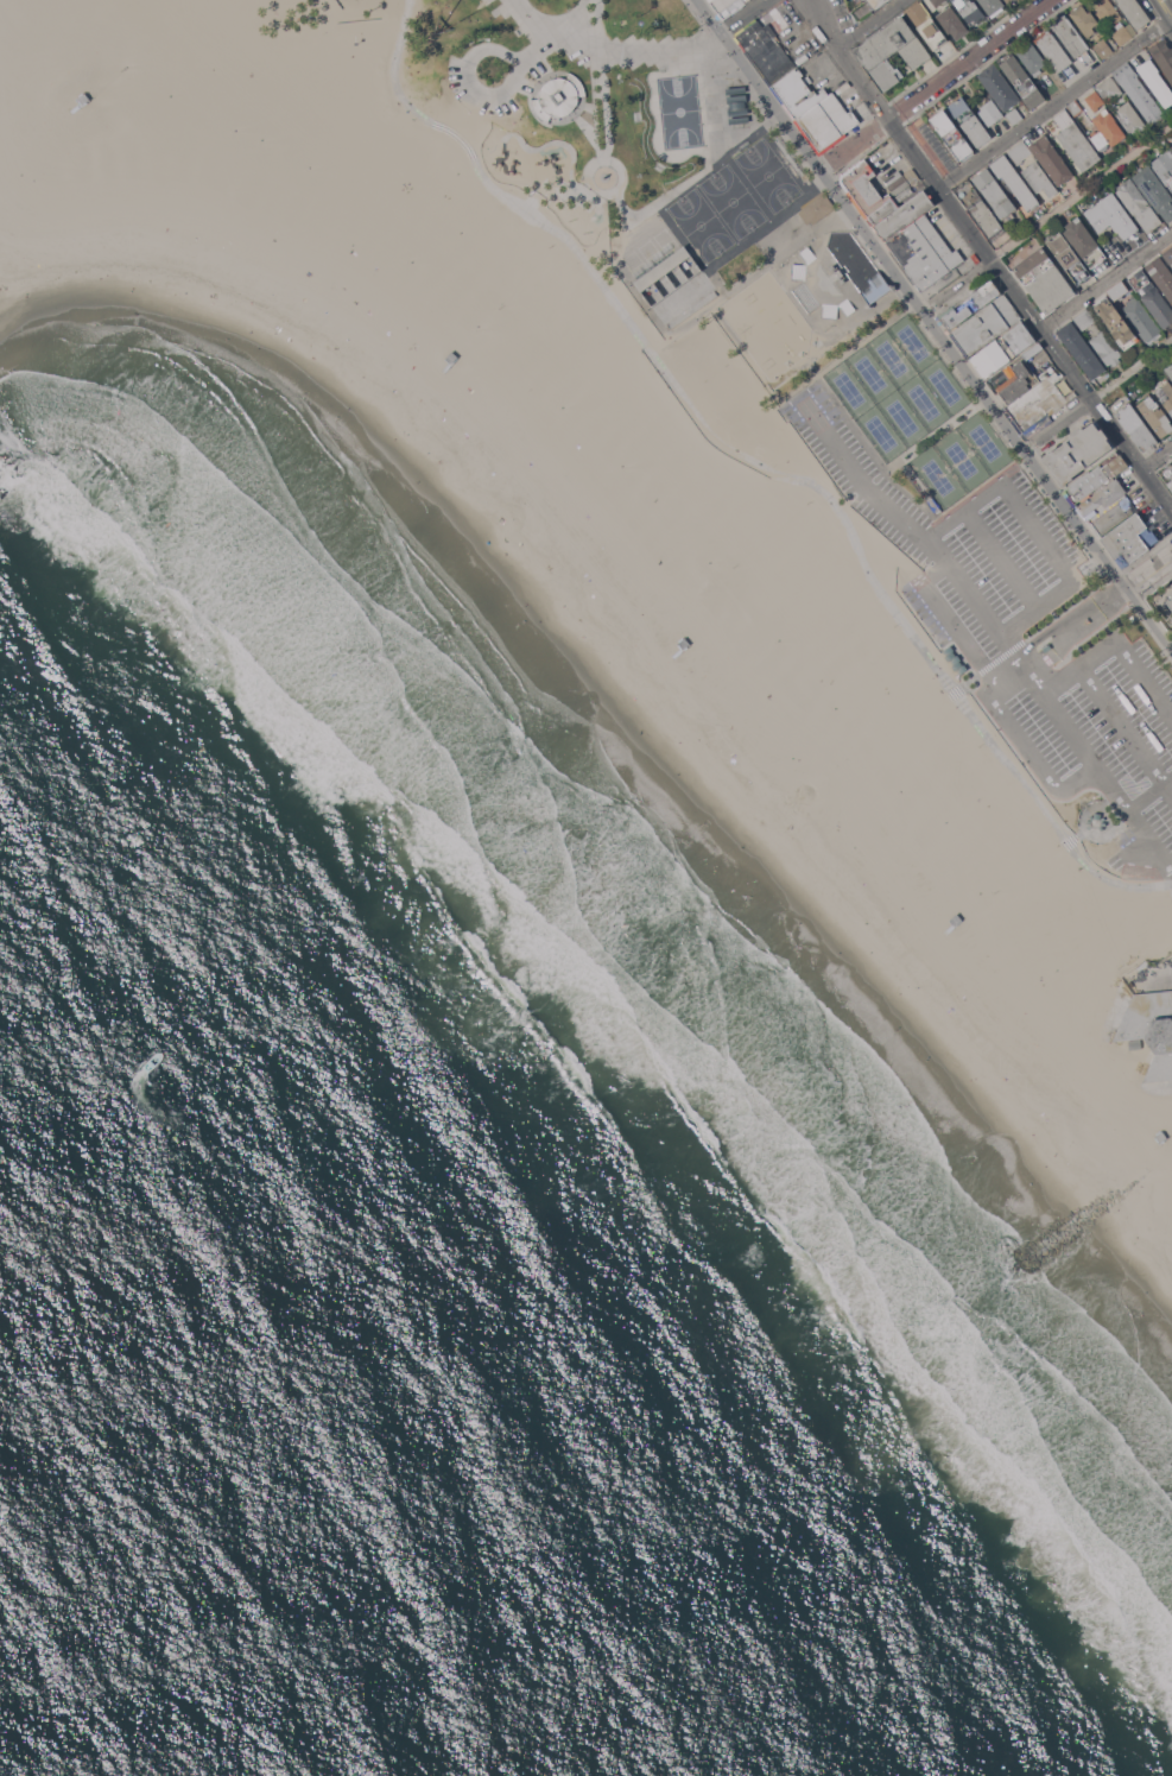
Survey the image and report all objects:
building: (952, 0)
building: (1007, 0)
building: (939, 1)
building: (880, 4)
building: (726, 6)
building: (993, 6)
street lamp: (569, 7)
road: (1166, 8)
building: (970, 11)
building: (1107, 12)
building: (1134, 13)
road: (742, 15)
street lamp: (697, 20)
building: (1085, 20)
road: (594, 23)
building: (952, 23)
road: (869, 24)
building: (926, 25)
road: (553, 31)
building: (1121, 34)
building: (1072, 38)
road: (547, 43)
street lamp: (360, 44)
building: (768, 44)
road: (645, 49)
building: (1103, 49)
building: (892, 51)
building: (1054, 52)
building: (822, 53)
street lamp: (730, 56)
building: (1164, 56)
road: (530, 57)
building: (1032, 57)
road: (970, 58)
road: (545, 61)
road: (468, 80)
road: (544, 80)
street lamp: (621, 80)
building: (1021, 80)
building: (1157, 82)
building: (999, 87)
building: (1109, 89)
building: (736, 90)
building: (1138, 91)
building: (798, 94)
building: (559, 97)
building: (82, 99)
road: (595, 100)
building: (1095, 100)
park: (579, 101)
street lamp: (762, 102)
road: (1054, 103)
road: (607, 106)
building: (737, 106)
road: (590, 108)
building: (1076, 108)
park: (679, 112)
building: (990, 112)
building: (1014, 115)
building: (1130, 119)
flagpole: (575, 120)
building: (740, 120)
building: (969, 121)
building: (826, 122)
road: (549, 125)
road: (587, 127)
building: (1107, 129)
building: (951, 135)
building: (1072, 140)
road: (854, 141)
road: (563, 144)
building: (1170, 150)
building: (1020, 151)
road: (603, 154)
building: (1051, 159)
road: (608, 160)
road: (603, 164)
building: (1164, 168)
road: (603, 169)
park: (766, 173)
road: (597, 177)
road: (696, 177)
building: (1039, 178)
building: (1013, 181)
building: (862, 185)
building: (1154, 190)
building: (995, 192)
road: (606, 194)
road: (557, 195)
park: (730, 200)
building: (815, 206)
building: (1138, 206)
building: (882, 209)
building: (978, 209)
building: (904, 214)
building: (1110, 215)
road: (1047, 217)
park: (698, 222)
building: (1084, 242)
building: (924, 252)
building: (1168, 255)
road: (988, 259)
building: (1069, 259)
building: (663, 268)
park: (667, 276)
building: (1161, 276)
road: (750, 279)
building: (1044, 279)
road: (1106, 282)
building: (873, 287)
road: (907, 287)
building: (1117, 290)
building: (1152, 298)
building: (971, 303)
building: (1084, 318)
building: (1141, 318)
building: (1116, 323)
building: (984, 324)
park: (911, 340)
building: (1106, 348)
building: (1001, 349)
building: (1032, 350)
building: (1081, 350)
park: (889, 355)
building: (450, 360)
building: (1168, 369)
park: (868, 371)
park: (715, 373)
building: (1016, 383)
park: (943, 385)
park: (847, 386)
road: (1096, 393)
building: (1165, 394)
park: (920, 399)
building: (1035, 402)
park: (899, 415)
building: (1155, 416)
building: (1136, 426)
park: (879, 431)
park: (983, 440)
building: (1077, 453)
road: (1155, 456)
park: (958, 457)
road: (756, 464)
building: (1167, 473)
park: (935, 474)
building: (1094, 479)
road: (851, 493)
building: (1102, 497)
building: (1113, 516)
road: (917, 527)
road: (1034, 529)
building: (1129, 538)
road: (1000, 556)
road: (1148, 568)
road: (1120, 580)
building: (1171, 584)
building: (1165, 605)
road: (1069, 606)
road: (1148, 618)
road: (951, 620)
road: (1070, 622)
parking lot: (1026, 631)
toll booth: (1047, 639)
building: (683, 644)
building: (952, 657)
road: (1128, 659)
road: (987, 663)
road: (1003, 669)
road: (1030, 674)
road: (950, 695)
road: (1109, 704)
road: (1030, 754)
road: (1106, 777)
road: (1168, 785)
road: (1151, 792)
building: (1096, 821)
building: (954, 879)
road: (1153, 975)
building: (1151, 1026)
building: (1133, 1043)
building: (1160, 1136)

